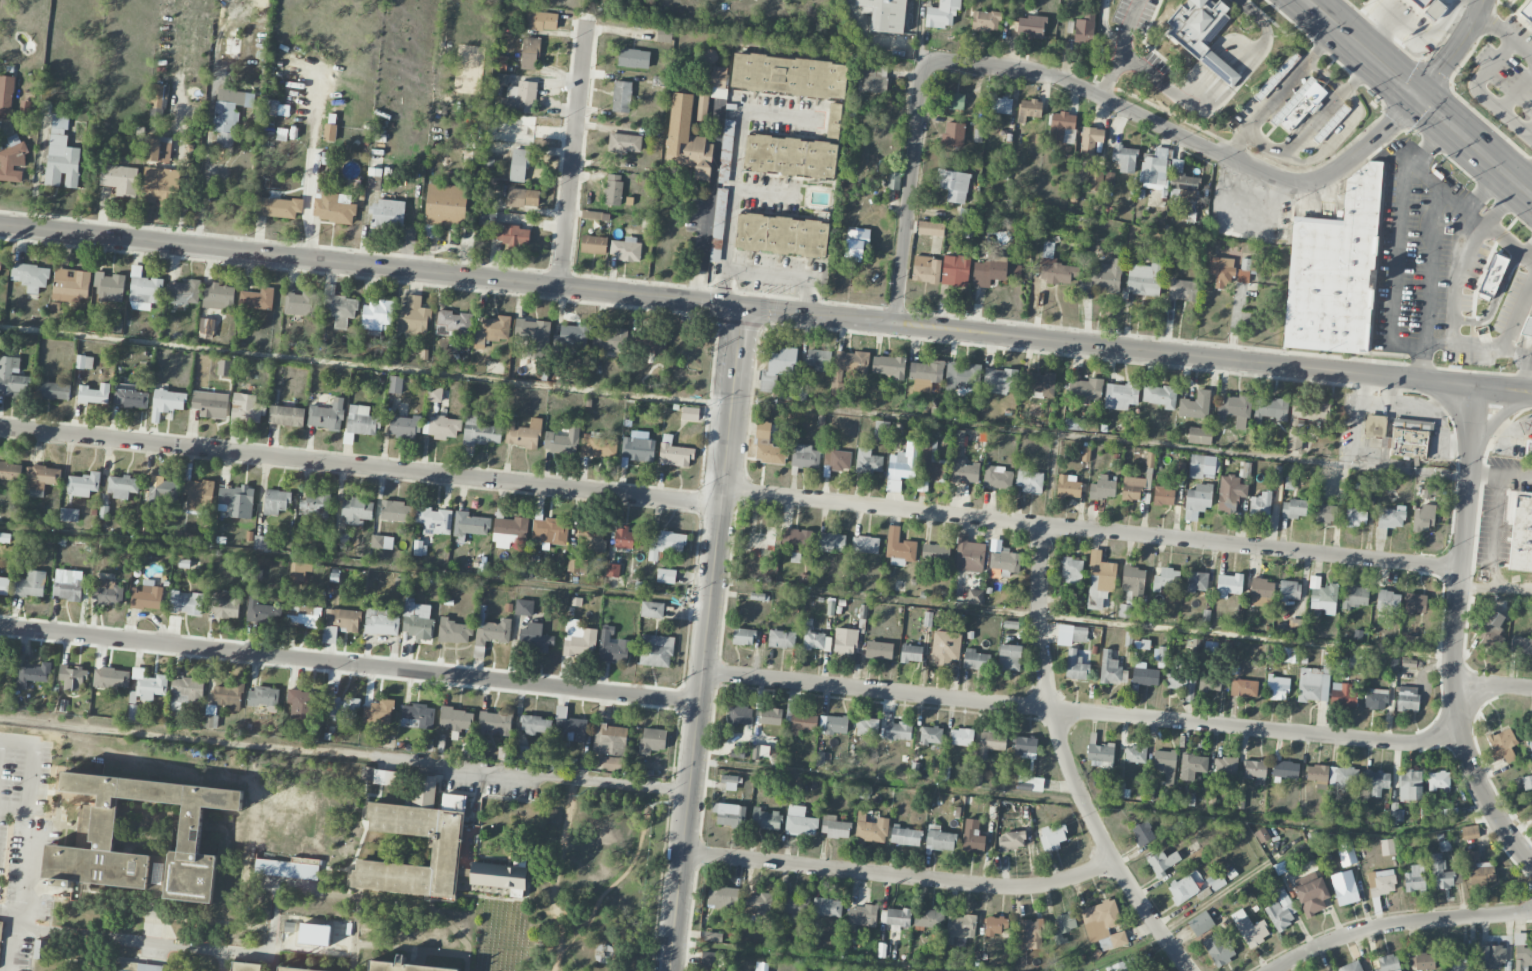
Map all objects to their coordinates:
building: (1421, 3)
building: (1526, 9)
building: (1434, 10)
building: (885, 14)
building: (942, 14)
building: (541, 21)
building: (985, 21)
building: (1030, 26)
building: (1084, 29)
building: (1201, 33)
road: (1505, 34)
building: (664, 35)
road: (1119, 48)
road: (1456, 51)
building: (530, 53)
building: (710, 56)
building: (633, 58)
building: (500, 63)
road: (1292, 75)
road: (1359, 75)
building: (789, 76)
building: (1277, 76)
building: (874, 78)
building: (500, 80)
building: (718, 82)
road: (1479, 93)
road: (1516, 93)
building: (158, 96)
building: (621, 96)
building: (6, 97)
building: (520, 97)
road: (1419, 97)
building: (956, 101)
building: (1001, 105)
building: (1299, 105)
building: (702, 106)
building: (277, 108)
building: (1029, 109)
road: (1201, 111)
building: (229, 115)
road: (1315, 121)
building: (1331, 124)
building: (1062, 127)
building: (330, 132)
building: (953, 134)
building: (977, 135)
road: (1185, 138)
road: (1334, 138)
building: (1090, 139)
building: (687, 140)
road: (1238, 142)
road: (1263, 142)
building: (624, 143)
building: (727, 144)
building: (158, 151)
building: (61, 154)
road: (573, 154)
building: (472, 157)
building: (790, 157)
building: (1125, 158)
building: (12, 159)
building: (518, 165)
building: (1154, 169)
road: (312, 171)
road: (735, 171)
building: (120, 179)
building: (374, 179)
building: (1182, 179)
building: (893, 181)
building: (1094, 181)
building: (953, 185)
road: (1441, 185)
road: (1528, 185)
building: (159, 187)
building: (613, 190)
road: (763, 190)
road: (910, 191)
building: (523, 198)
road: (1495, 201)
road: (710, 202)
building: (446, 206)
building: (277, 207)
building: (334, 207)
building: (387, 213)
building: (595, 215)
building: (967, 216)
building: (930, 228)
building: (717, 230)
building: (512, 235)
building: (782, 235)
road: (1400, 240)
road: (1505, 241)
building: (855, 243)
building: (593, 245)
building: (625, 249)
building: (0, 264)
road: (1429, 264)
road: (371, 265)
building: (1056, 268)
building: (926, 269)
building: (1244, 269)
building: (955, 270)
building: (1221, 270)
building: (994, 271)
building: (1334, 272)
road: (783, 274)
road: (1458, 274)
building: (1105, 275)
building: (30, 276)
building: (1491, 276)
building: (1142, 280)
building: (71, 285)
building: (109, 286)
building: (143, 290)
building: (1183, 290)
building: (183, 292)
building: (218, 296)
building: (257, 299)
building: (301, 303)
traffic signals: (744, 305)
road: (1518, 305)
building: (339, 307)
building: (374, 316)
building: (413, 317)
building: (454, 321)
building: (1527, 325)
building: (206, 328)
building: (491, 331)
building: (573, 336)
building: (533, 338)
building: (610, 338)
road: (1464, 344)
building: (654, 346)
road: (1112, 346)
building: (819, 360)
road: (1531, 360)
road: (1421, 361)
building: (84, 362)
building: (888, 366)
building: (224, 367)
building: (777, 368)
building: (846, 369)
building: (927, 371)
building: (961, 376)
building: (13, 378)
building: (1000, 380)
building: (1039, 383)
building: (395, 384)
road: (1507, 389)
building: (52, 390)
building: (1085, 390)
building: (94, 394)
building: (435, 394)
building: (1121, 395)
building: (129, 396)
building: (1160, 396)
building: (167, 403)
building: (210, 404)
building: (1195, 405)
building: (247, 406)
road: (736, 407)
building: (1270, 409)
building: (1236, 410)
building: (1312, 411)
building: (690, 413)
building: (326, 415)
building: (286, 416)
building: (362, 421)
building: (1074, 424)
building: (1525, 424)
building: (1374, 426)
building: (403, 427)
building: (441, 427)
building: (881, 430)
building: (480, 432)
road: (1055, 432)
building: (523, 434)
building: (1200, 435)
building: (1410, 437)
building: (562, 440)
building: (958, 440)
building: (598, 446)
building: (768, 446)
building: (638, 447)
building: (1528, 449)
building: (674, 453)
building: (805, 456)
building: (837, 460)
building: (868, 461)
building: (930, 462)
road: (360, 466)
building: (1201, 466)
building: (900, 467)
building: (10, 471)
building: (964, 471)
road: (1502, 474)
building: (997, 477)
building: (40, 479)
building: (1029, 480)
building: (1289, 481)
building: (83, 484)
building: (122, 486)
building: (1068, 486)
building: (1102, 488)
building: (1132, 488)
building: (1430, 492)
building: (163, 493)
building: (1230, 493)
building: (198, 494)
building: (1163, 496)
building: (1197, 501)
building: (235, 502)
building: (276, 502)
building: (1260, 504)
building: (314, 506)
building: (1293, 508)
building: (356, 511)
building: (104, 512)
building: (1325, 513)
building: (68, 514)
building: (1391, 517)
building: (1355, 518)
building: (1423, 518)
building: (434, 520)
building: (470, 524)
building: (144, 528)
road: (1092, 529)
building: (549, 530)
building: (509, 531)
road: (1497, 533)
building: (1521, 534)
building: (591, 536)
building: (5, 537)
building: (626, 538)
building: (260, 542)
building: (382, 542)
building: (797, 542)
building: (831, 542)
building: (666, 544)
building: (865, 545)
building: (763, 546)
building: (419, 548)
building: (899, 548)
building: (935, 552)
building: (969, 555)
road: (355, 562)
building: (1004, 562)
building: (577, 566)
building: (613, 570)
building: (1071, 570)
building: (299, 571)
building: (1101, 573)
building: (666, 576)
building: (1167, 578)
building: (1133, 580)
building: (1196, 581)
building: (30, 584)
building: (4, 585)
building: (1228, 585)
building: (68, 589)
building: (1289, 590)
building: (1262, 592)
building: (107, 593)
road: (1496, 593)
building: (147, 596)
building: (975, 597)
building: (1356, 597)
building: (1387, 600)
building: (185, 603)
building: (1415, 603)
building: (223, 604)
building: (524, 607)
building: (652, 609)
building: (258, 611)
building: (1124, 611)
building: (303, 615)
building: (343, 619)
road: (1083, 619)
building: (417, 620)
building: (381, 622)
building: (1296, 626)
building: (1491, 626)
building: (453, 631)
building: (493, 632)
road: (1456, 632)
building: (1072, 634)
building: (329, 635)
road: (706, 637)
building: (743, 637)
building: (536, 638)
building: (781, 639)
building: (813, 639)
building: (579, 640)
building: (845, 641)
building: (1521, 646)
building: (613, 647)
building: (879, 650)
building: (656, 651)
building: (911, 653)
building: (941, 655)
building: (1290, 655)
building: (1160, 657)
building: (1009, 658)
building: (975, 660)
building: (1408, 663)
building: (6, 664)
road: (350, 664)
building: (1075, 667)
building: (1111, 669)
building: (32, 675)
building: (1144, 675)
building: (73, 676)
building: (111, 678)
building: (1210, 681)
building: (1181, 683)
building: (1314, 683)
road: (1493, 686)
building: (1244, 688)
building: (1277, 688)
building: (145, 689)
building: (185, 691)
building: (1342, 695)
building: (227, 696)
building: (264, 697)
building: (1407, 698)
building: (1375, 699)
building: (301, 704)
building: (340, 708)
road: (1083, 711)
building: (378, 712)
building: (740, 715)
building: (417, 716)
building: (770, 716)
building: (211, 717)
building: (456, 719)
building: (803, 721)
building: (495, 722)
building: (833, 724)
building: (536, 725)
building: (867, 726)
building: (898, 731)
road: (182, 734)
building: (931, 735)
building: (962, 737)
building: (609, 739)
building: (652, 740)
building: (993, 741)
building: (1502, 744)
building: (1025, 746)
building: (763, 750)
building: (520, 754)
building: (1135, 754)
building: (1100, 755)
building: (1531, 756)
building: (820, 758)
building: (1164, 761)
building: (612, 763)
road: (1069, 763)
building: (1193, 766)
building: (1225, 766)
building: (1285, 769)
building: (1255, 771)
road: (29, 773)
road: (527, 773)
building: (1316, 773)
building: (378, 776)
building: (1343, 776)
parking lot: (21, 777)
building: (1438, 780)
building: (729, 781)
building: (1376, 781)
building: (1527, 782)
building: (1030, 783)
building: (1410, 786)
building: (1120, 789)
road: (1115, 805)
building: (1395, 812)
building: (729, 814)
building: (764, 819)
building: (800, 822)
building: (107, 825)
building: (834, 827)
building: (871, 829)
building: (1470, 832)
building: (430, 833)
building: (1143, 833)
building: (1262, 835)
building: (905, 836)
building: (972, 836)
building: (1052, 837)
road: (359, 838)
building: (940, 839)
building: (1011, 841)
road: (565, 843)
building: (1444, 845)
building: (1387, 847)
building: (1346, 853)
building: (1162, 863)
building: (1281, 868)
building: (1480, 871)
road: (625, 872)
building: (1441, 873)
road: (901, 876)
building: (287, 878)
building: (1414, 879)
building: (1215, 881)
building: (1381, 882)
building: (1344, 888)
building: (1182, 889)
parking lot: (27, 890)
building: (1312, 896)
building: (722, 898)
road: (534, 901)
road: (21, 904)
building: (758, 904)
building: (827, 907)
building: (795, 910)
building: (1281, 911)
road: (162, 913)
road: (1194, 914)
building: (862, 915)
building: (898, 917)
building: (930, 919)
road: (576, 923)
building: (1201, 923)
building: (995, 925)
building: (1103, 925)
road: (1397, 925)
building: (289, 926)
building: (961, 926)
building: (1063, 927)
building: (2, 929)
building: (1250, 929)
park: (490, 930)
road: (560, 930)
building: (305, 933)
building: (1031, 934)
building: (712, 936)
road: (177, 940)
road: (162, 943)
building: (42, 949)
road: (559, 949)
building: (1219, 949)
road: (60, 951)
building: (1522, 953)
road: (806, 956)
building: (1491, 957)
road: (578, 959)
building: (710, 959)
building: (1457, 959)
building: (1421, 960)
road: (223, 961)
building: (398, 965)
building: (138, 966)
building: (245, 966)
road: (599, 966)
building: (1119, 966)
building: (763, 967)
building: (1351, 967)
building: (292, 969)

